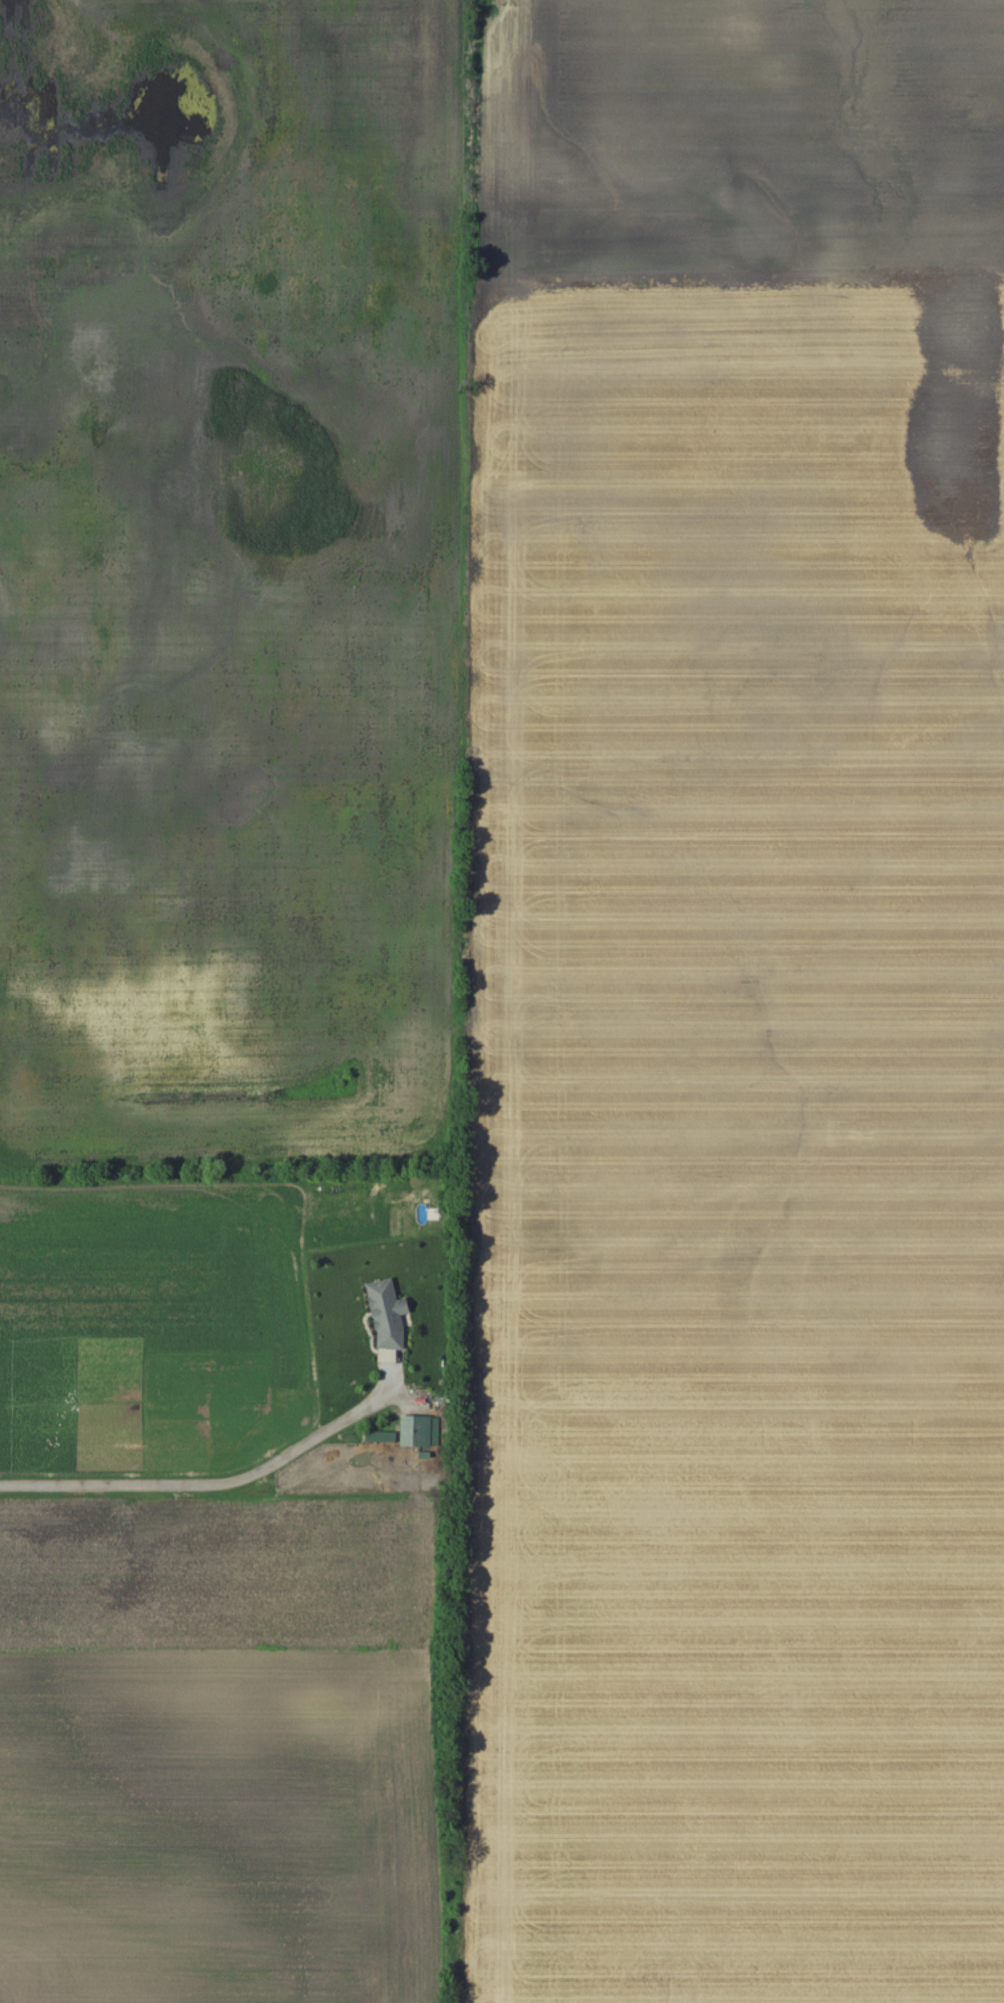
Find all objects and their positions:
building: (390, 1315)
building: (421, 1431)
road: (204, 1487)

